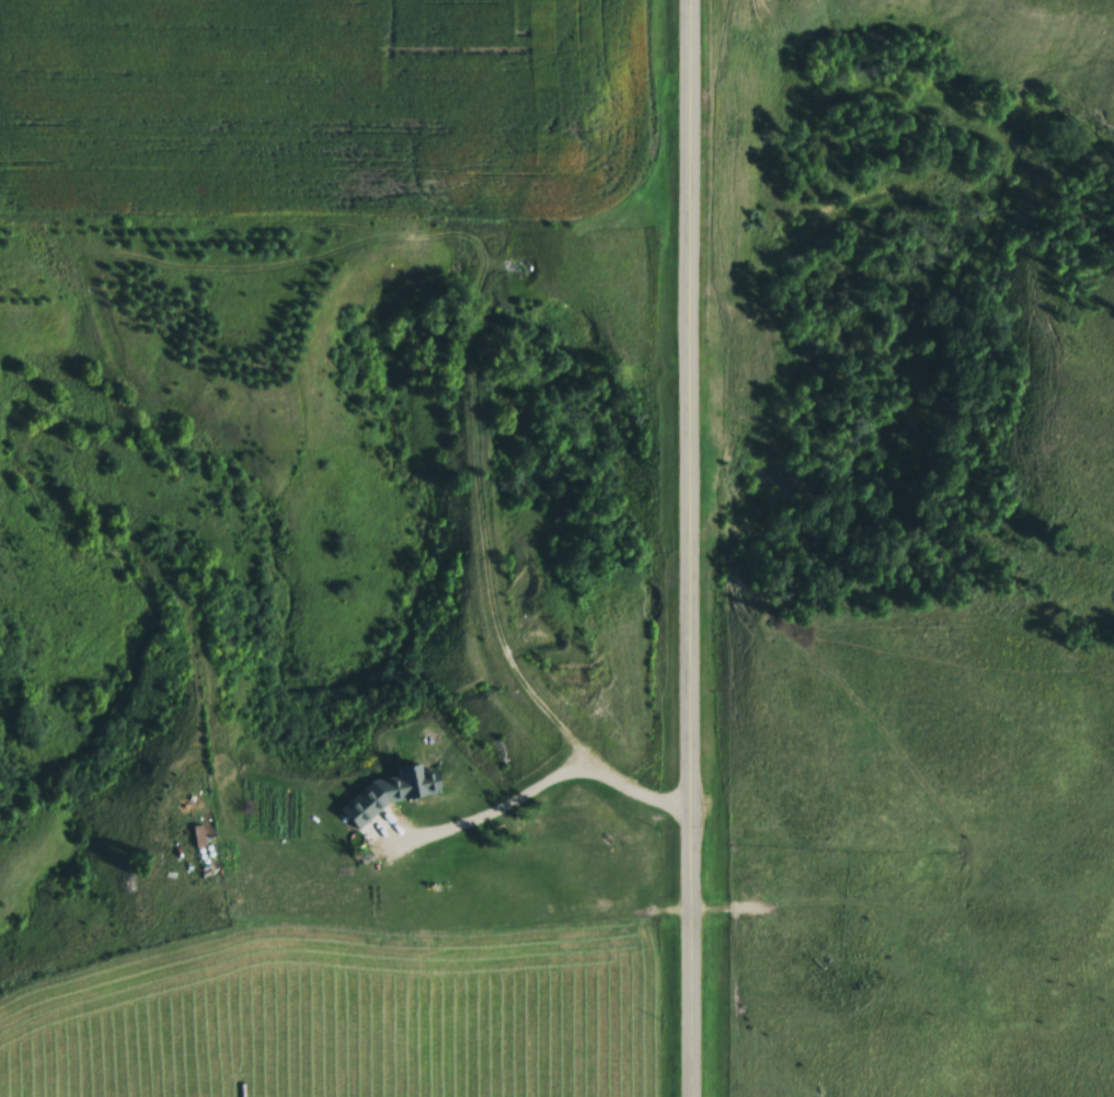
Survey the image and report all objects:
road: (691, 548)

